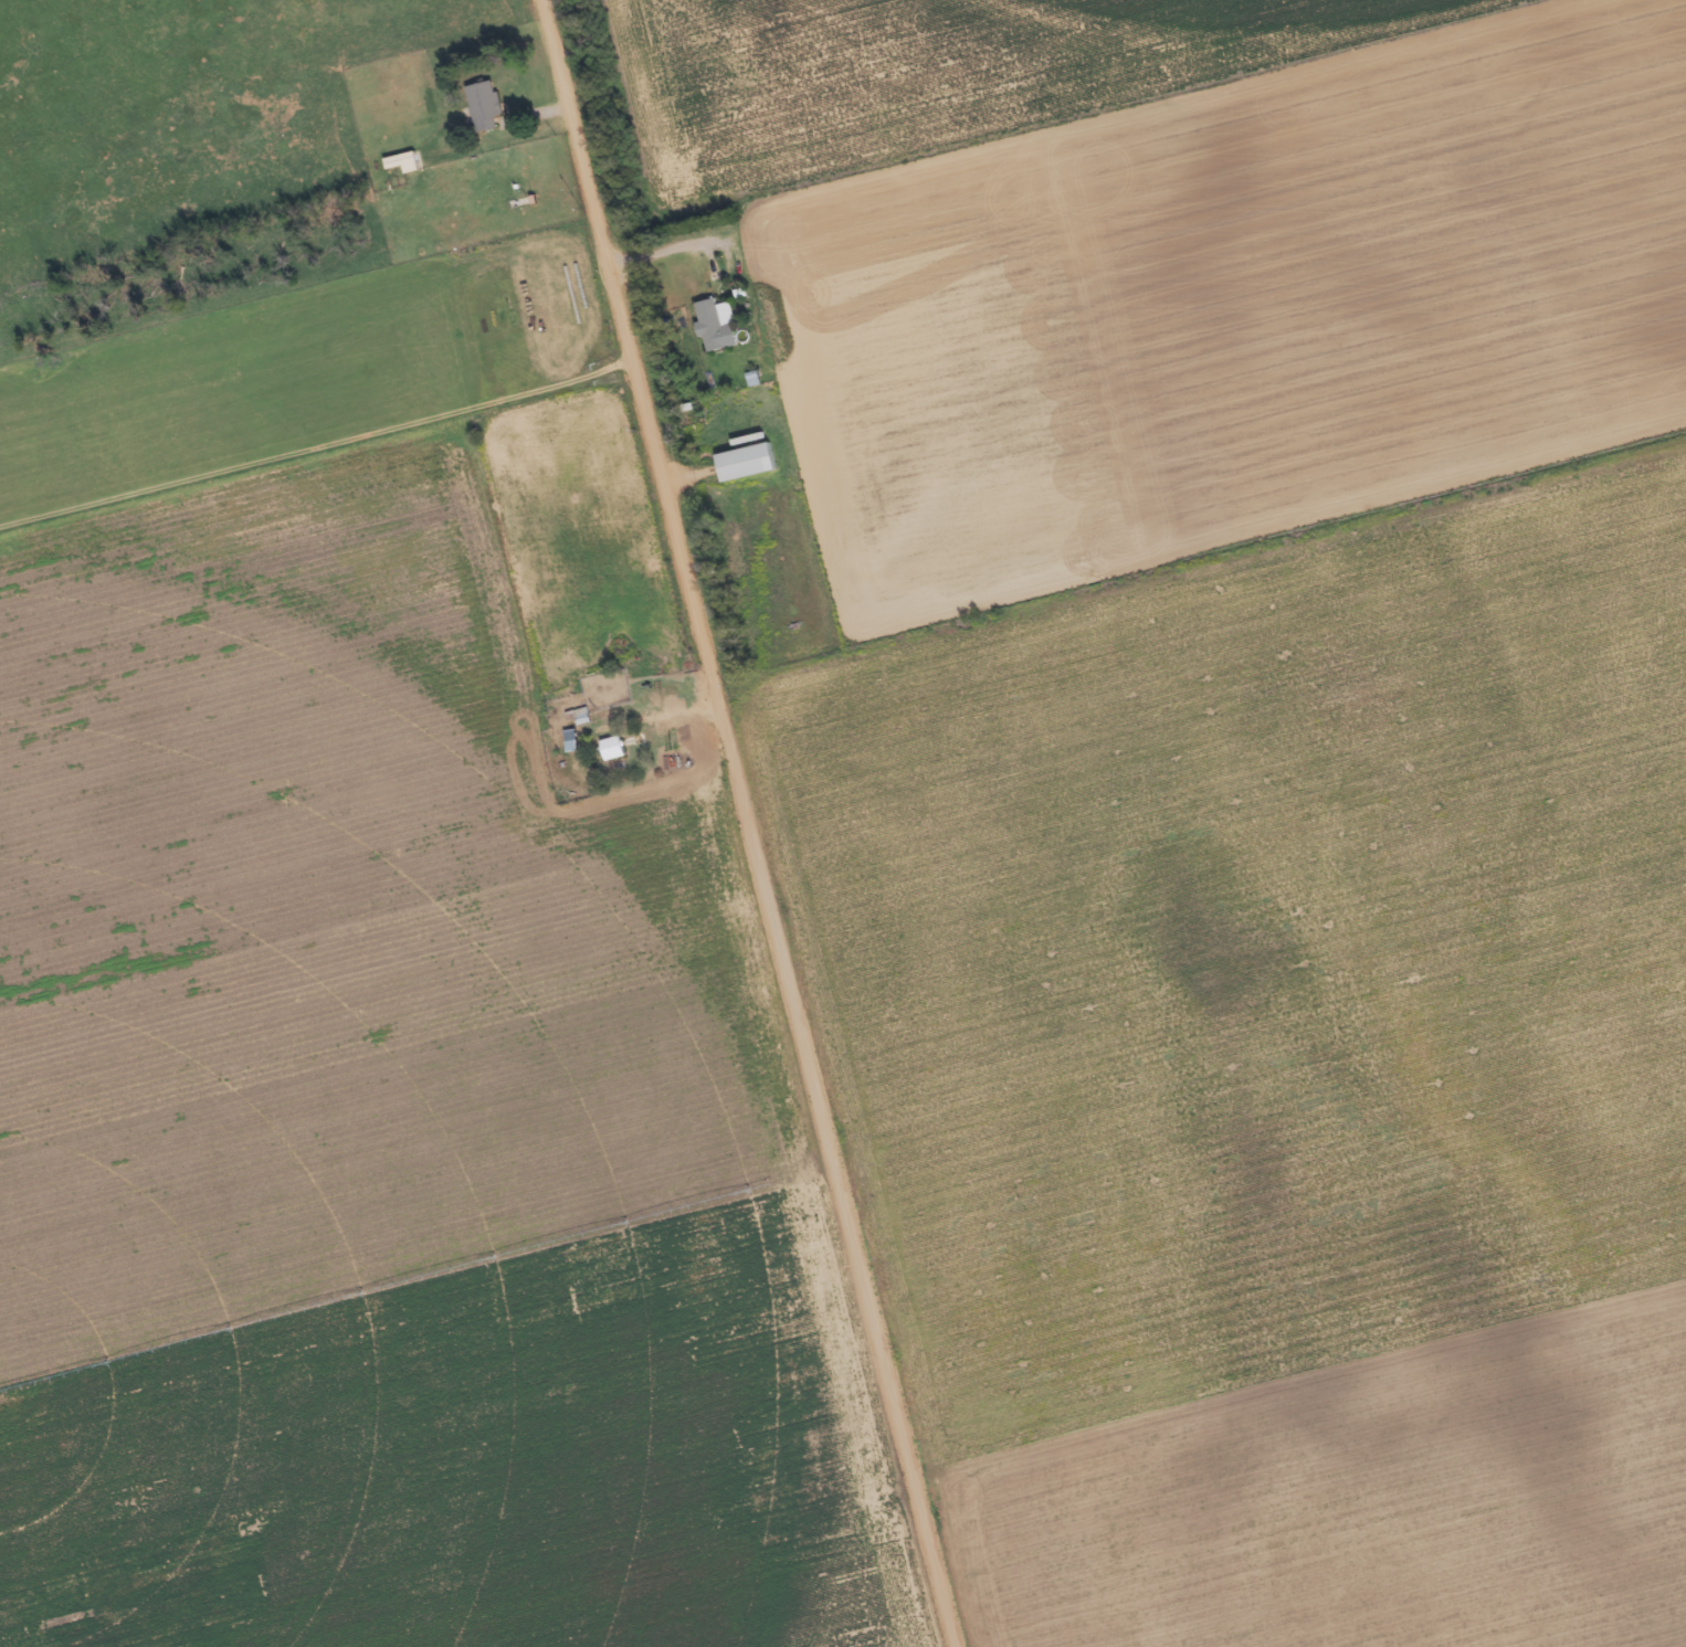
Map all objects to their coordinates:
building: (489, 108)
building: (407, 166)
road: (286, 233)
building: (721, 328)
building: (752, 465)
building: (618, 750)
road: (741, 823)

